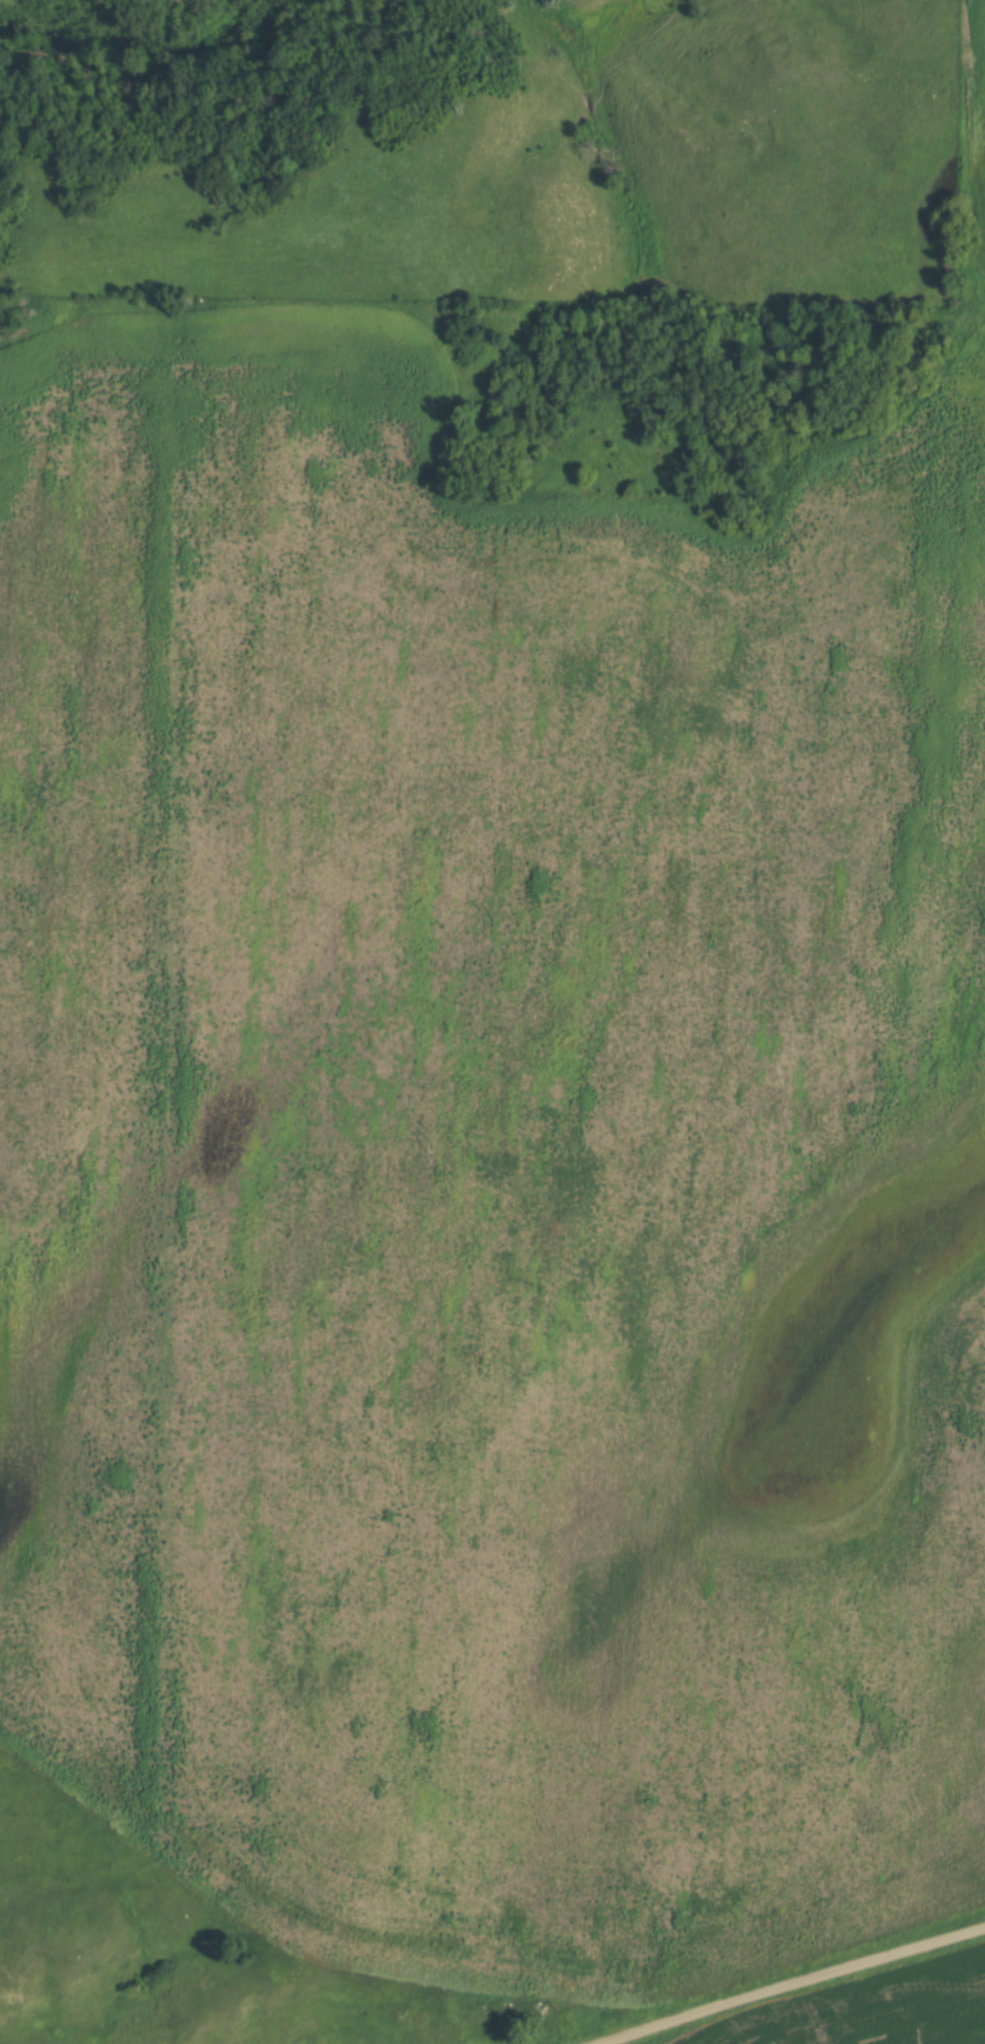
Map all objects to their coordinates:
road: (785, 1987)

